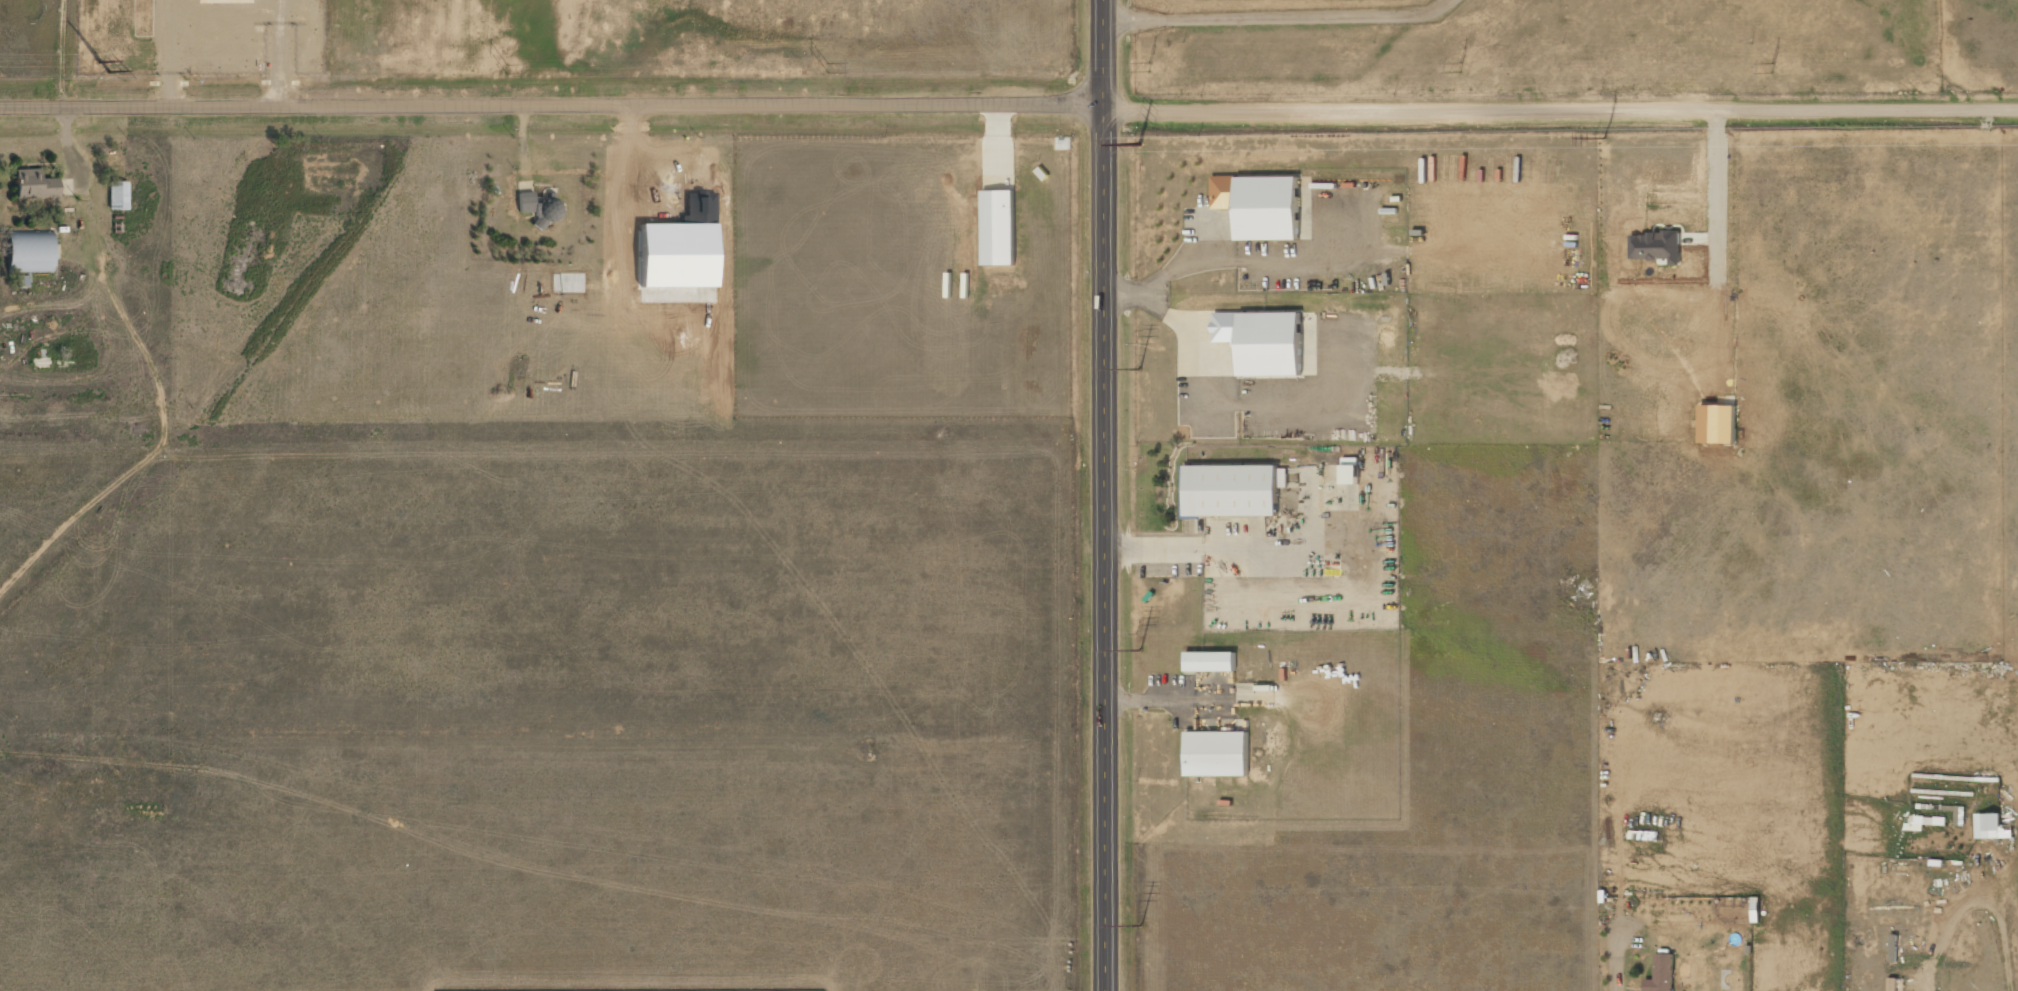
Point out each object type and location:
road: (1266, 21)
power tower: (1145, 67)
power tower: (104, 68)
power tower: (1461, 68)
power tower: (826, 69)
power tower: (1771, 69)
power tower: (506, 72)
road: (552, 107)
road: (1560, 109)
power tower: (1603, 138)
power tower: (1139, 142)
building: (36, 186)
building: (119, 196)
building: (1260, 206)
building: (540, 208)
building: (999, 228)
building: (1656, 247)
building: (31, 253)
building: (1263, 341)
power tower: (1139, 375)
building: (1719, 424)
building: (1350, 471)
building: (1234, 490)
road: (1106, 495)
power tower: (1140, 647)
building: (1211, 662)
building: (1217, 754)
building: (1922, 822)
building: (1993, 826)
power tower: (1140, 925)
building: (1662, 974)

